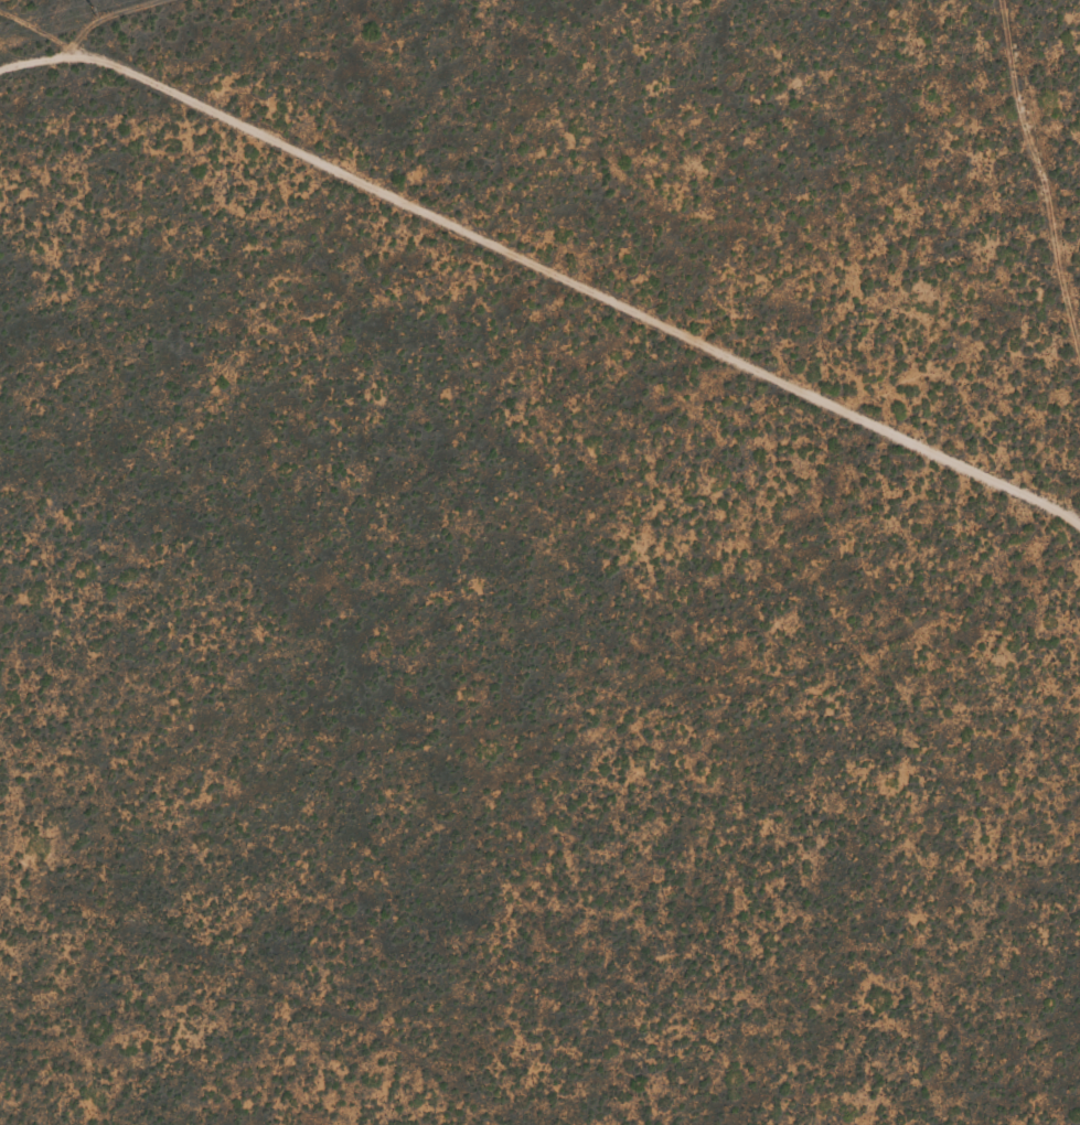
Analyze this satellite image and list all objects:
power tower: (86, 11)
road: (1059, 108)
road: (539, 413)

